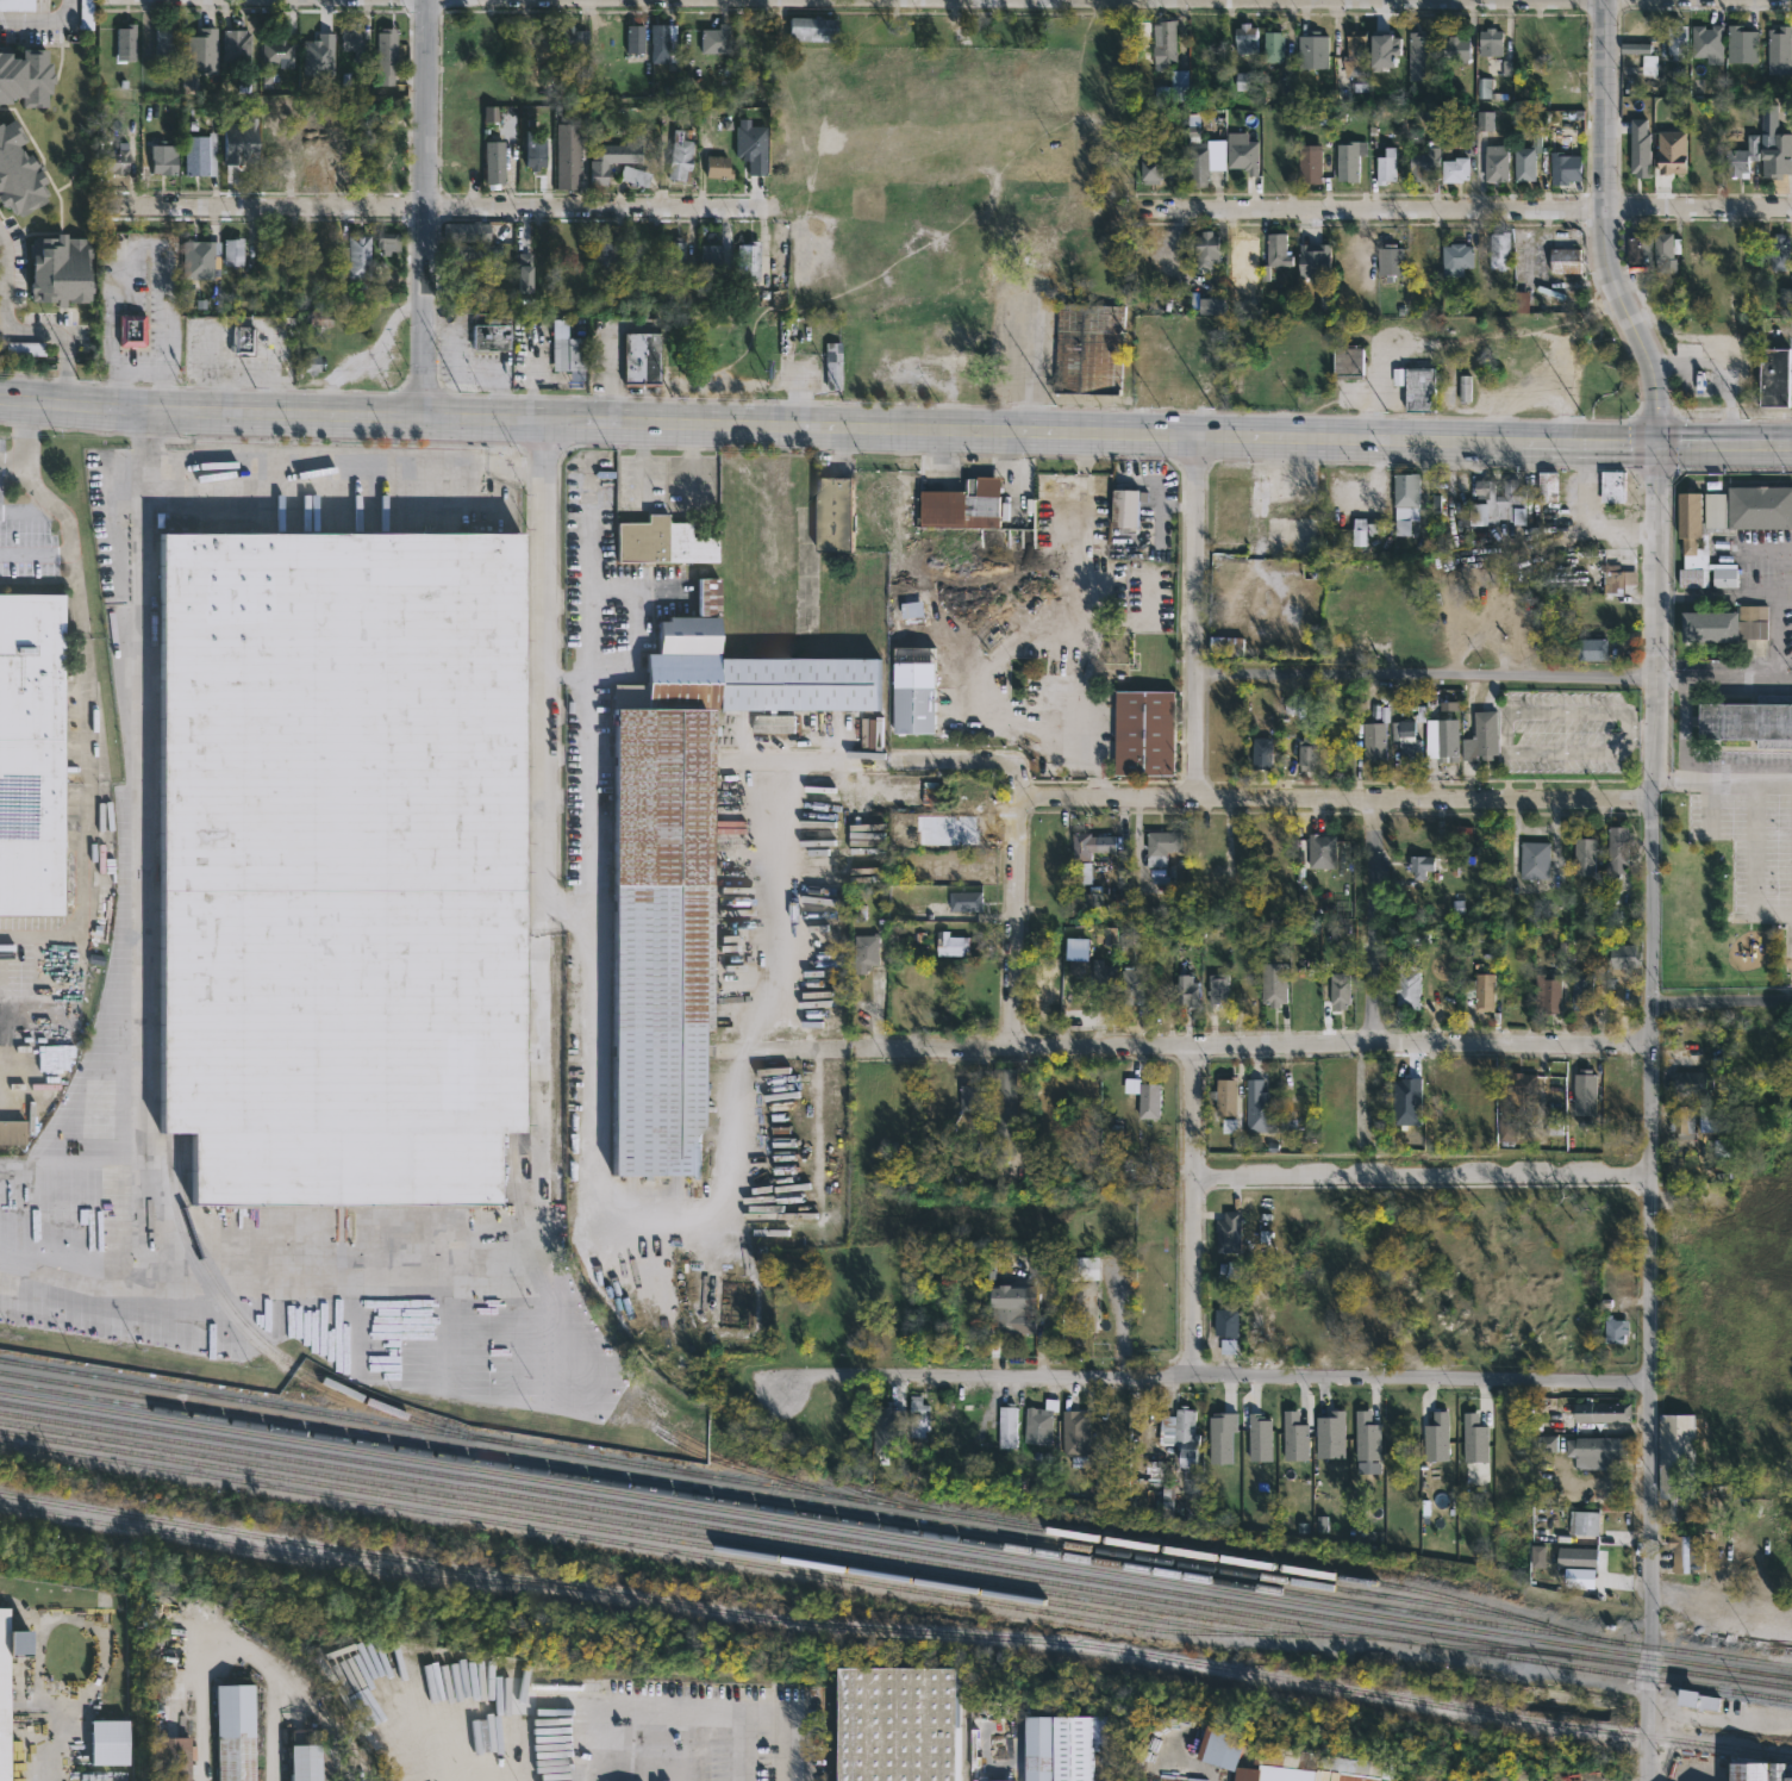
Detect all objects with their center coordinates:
road: (1223, 0)
building: (88, 14)
road: (42, 20)
building: (811, 27)
building: (749, 36)
building: (573, 37)
building: (354, 38)
building: (545, 38)
building: (638, 38)
building: (1243, 38)
building: (716, 39)
building: (1675, 41)
building: (169, 42)
building: (1488, 42)
building: (1706, 42)
building: (130, 43)
building: (666, 43)
building: (1163, 44)
building: (1742, 44)
building: (239, 45)
building: (1274, 46)
building: (1454, 49)
building: (1635, 49)
building: (200, 50)
building: (1313, 51)
building: (1779, 51)
building: (1387, 52)
building: (277, 54)
building: (1354, 54)
building: (319, 55)
building: (386, 56)
building: (1421, 58)
building: (1649, 66)
building: (25, 74)
building: (1182, 94)
building: (1485, 122)
building: (1637, 144)
building: (239, 148)
building: (751, 148)
building: (538, 150)
building: (1669, 150)
building: (317, 151)
building: (568, 151)
building: (1244, 152)
building: (200, 155)
building: (682, 156)
building: (1742, 156)
building: (1775, 156)
building: (613, 157)
building: (163, 158)
building: (501, 160)
building: (1348, 161)
building: (1526, 161)
building: (115, 163)
building: (1197, 163)
building: (1494, 163)
building: (722, 166)
building: (1309, 166)
building: (1423, 167)
building: (1151, 169)
building: (1565, 169)
building: (18, 170)
building: (1384, 170)
building: (1455, 170)
building: (632, 175)
road: (433, 207)
road: (427, 208)
road: (1468, 210)
road: (1609, 225)
building: (469, 230)
road: (143, 243)
building: (389, 243)
building: (608, 247)
building: (1205, 248)
building: (1498, 249)
building: (477, 250)
building: (1636, 250)
building: (1665, 250)
building: (1778, 251)
building: (233, 253)
building: (676, 253)
building: (1274, 253)
building: (712, 257)
building: (1456, 257)
building: (1388, 259)
building: (750, 260)
building: (1565, 260)
building: (200, 261)
building: (1317, 261)
building: (356, 263)
building: (55, 268)
building: (525, 274)
building: (464, 275)
road: (4, 304)
building: (1526, 304)
building: (1212, 307)
road: (243, 318)
building: (131, 330)
building: (1192, 331)
building: (493, 335)
building: (243, 342)
road: (63, 343)
building: (566, 347)
building: (1087, 348)
building: (639, 357)
building: (1347, 359)
building: (836, 366)
building: (1154, 370)
road: (244, 373)
building: (1318, 373)
road: (1717, 374)
building: (1774, 376)
road: (68, 379)
building: (1415, 386)
building: (1465, 388)
building: (1184, 391)
road: (728, 423)
road: (1556, 441)
traffic signals: (1657, 442)
road: (1723, 442)
road: (1791, 443)
road: (12, 465)
building: (1547, 486)
building: (1611, 486)
road: (318, 490)
building: (1405, 494)
building: (1496, 502)
road: (48, 503)
building: (962, 504)
building: (1279, 505)
building: (1124, 506)
building: (1234, 506)
building: (841, 512)
road: (1591, 512)
building: (1724, 525)
building: (1368, 531)
building: (663, 541)
road: (1766, 546)
road: (36, 549)
building: (1313, 575)
building: (1616, 579)
road: (1723, 591)
road: (1195, 616)
building: (1597, 616)
building: (1448, 617)
road: (80, 619)
building: (1724, 624)
building: (1342, 627)
building: (1224, 644)
road: (82, 646)
building: (1591, 649)
road: (541, 666)
road: (1423, 675)
road: (1722, 675)
road: (566, 677)
building: (1295, 708)
building: (910, 710)
road: (591, 717)
building: (1749, 720)
building: (778, 724)
road: (1682, 729)
building: (1142, 731)
parking lot: (1563, 731)
road: (1642, 731)
road: (1506, 734)
building: (1374, 737)
building: (1481, 737)
building: (1405, 740)
building: (1447, 741)
building: (1260, 753)
building: (32, 754)
building: (1306, 754)
road: (970, 762)
road: (1722, 783)
road: (1335, 799)
building: (945, 829)
road: (82, 833)
building: (1091, 843)
building: (1161, 846)
building: (1617, 846)
parking lot: (1750, 848)
building: (1320, 851)
building: (1584, 855)
building: (1534, 860)
parking lot: (1755, 860)
building: (1050, 863)
building: (339, 864)
building: (1419, 865)
building: (689, 866)
road: (768, 885)
building: (963, 901)
road: (1373, 921)
road: (1017, 922)
building: (951, 944)
building: (864, 949)
building: (1624, 958)
building: (1273, 983)
building: (1101, 984)
building: (1129, 986)
building: (1406, 986)
building: (1216, 989)
building: (1338, 989)
building: (1163, 990)
building: (1185, 991)
building: (1479, 991)
building: (1581, 991)
building: (1304, 992)
building: (1547, 994)
road: (1722, 997)
road: (36, 1023)
road: (1253, 1042)
road: (539, 1067)
road: (144, 1075)
building: (1692, 1083)
building: (1616, 1089)
building: (1584, 1092)
building: (973, 1095)
building: (1224, 1096)
building: (1144, 1097)
building: (1513, 1101)
building: (1259, 1108)
building: (1003, 1111)
road: (1651, 1111)
building: (1681, 1119)
building: (1712, 1119)
building: (14, 1131)
road: (1423, 1175)
railway: (514, 1178)
railway: (505, 1182)
road: (1194, 1209)
building: (1237, 1234)
railway: (214, 1297)
building: (1085, 1303)
building: (1009, 1309)
building: (1224, 1322)
building: (1615, 1331)
railway: (263, 1338)
road: (1206, 1377)
railway: (726, 1389)
building: (917, 1412)
building: (1600, 1412)
building: (1035, 1425)
railway: (417, 1426)
building: (1005, 1426)
building: (1075, 1433)
building: (1179, 1434)
building: (1329, 1434)
building: (1293, 1436)
building: (1220, 1437)
building: (1436, 1437)
building: (1259, 1438)
building: (1367, 1443)
railway: (712, 1450)
building: (1475, 1450)
building: (1593, 1452)
building: (1678, 1468)
railway: (755, 1492)
railway: (803, 1511)
building: (1586, 1524)
railway: (653, 1527)
railway: (620, 1531)
railway: (895, 1536)
railway: (868, 1542)
railway: (280, 1551)
building: (1684, 1551)
railway: (693, 1553)
railway: (895, 1556)
railway: (1219, 1557)
building: (1576, 1558)
road: (1719, 1605)
railway: (216, 1611)
railway: (895, 1630)
railway: (1492, 1646)
road: (232, 1651)
railway: (1791, 1663)
railway: (1765, 1680)
railway: (1765, 1682)
building: (4, 1695)
road: (704, 1713)
building: (894, 1724)
building: (239, 1732)
building: (112, 1742)
building: (1217, 1745)
building: (1054, 1748)
building: (175, 1758)
building: (326, 1763)
road: (20, 1766)
building: (1310, 1767)
building: (1760, 1770)
building: (993, 1780)

